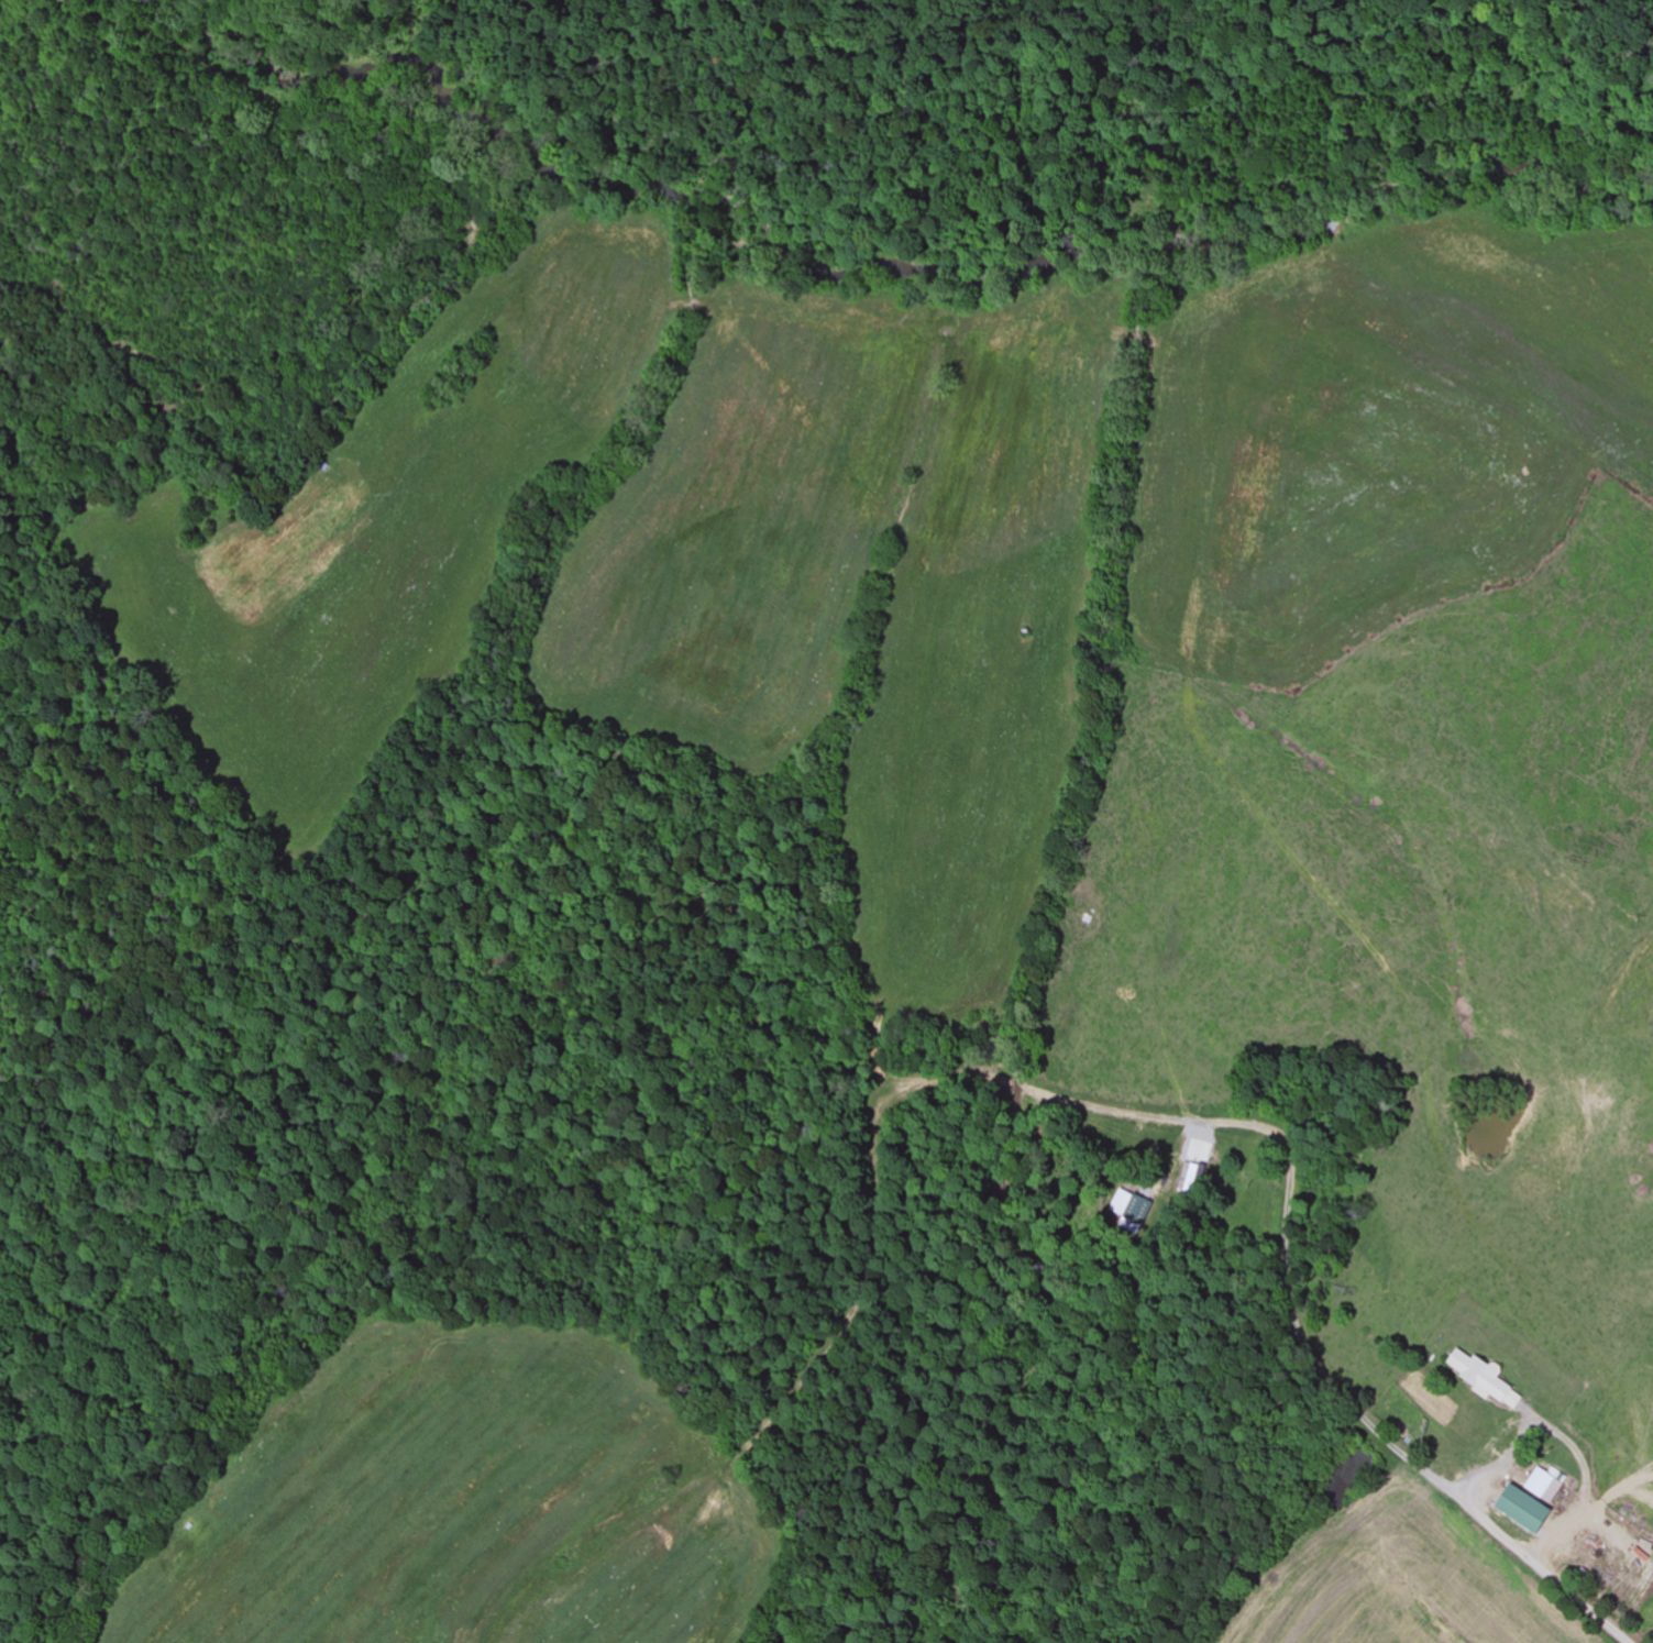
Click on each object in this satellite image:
building: (1192, 1172)
building: (1476, 1378)
building: (1541, 1476)
road: (1541, 1568)

